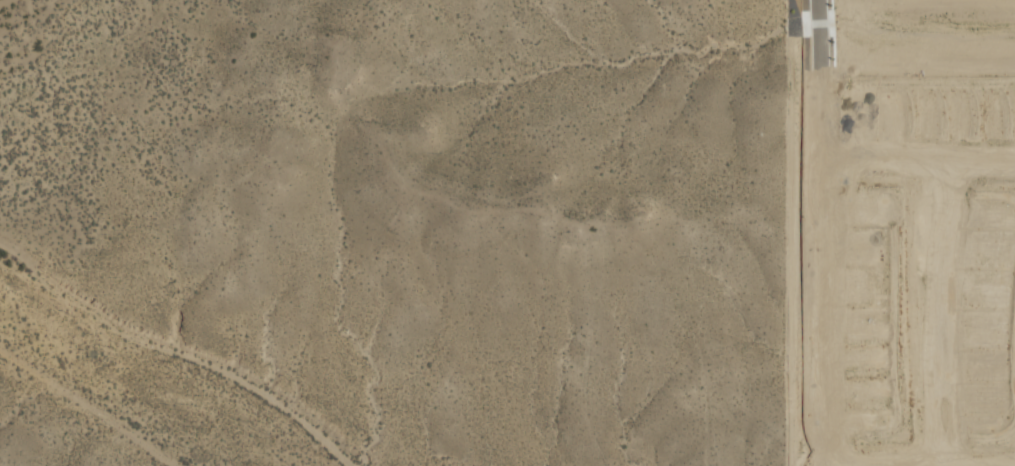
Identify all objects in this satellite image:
road: (923, 159)
road: (836, 227)
road: (957, 313)
road: (929, 464)

